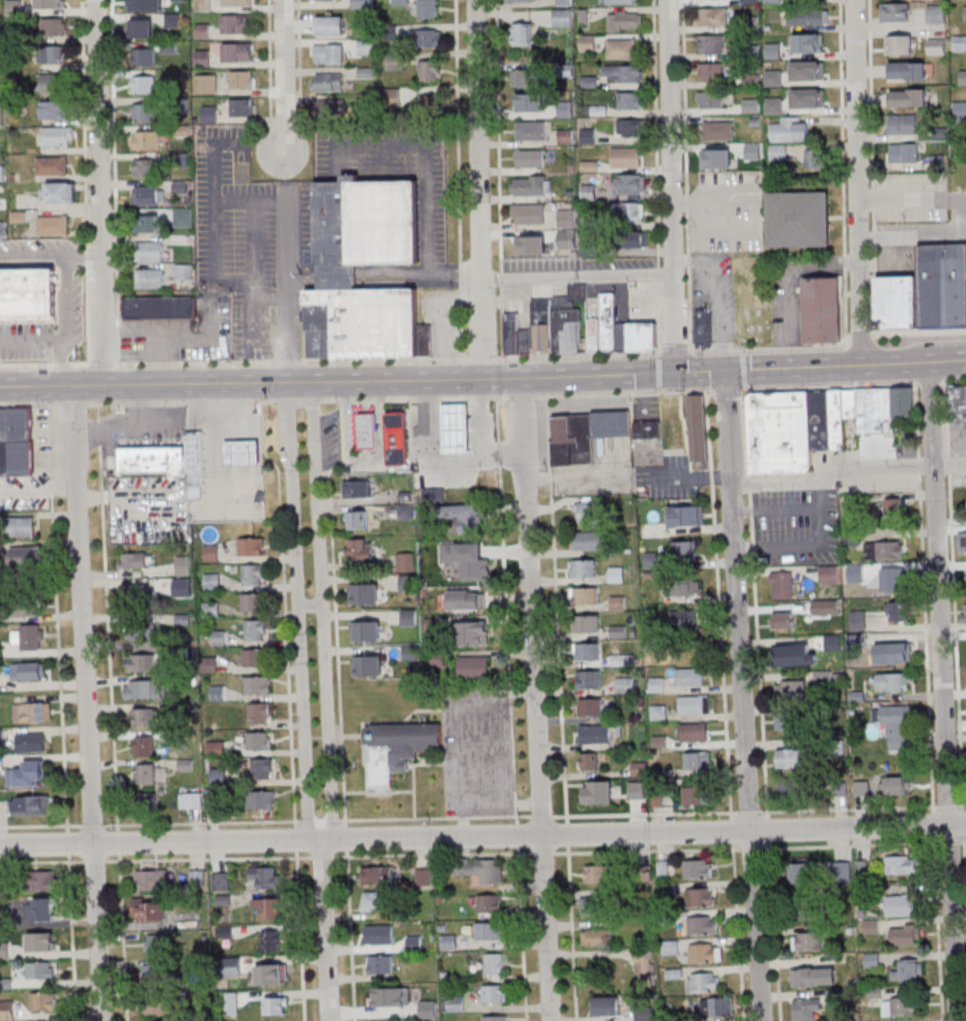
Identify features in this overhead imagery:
building: (749, 0)
building: (520, 1)
building: (622, 1)
building: (772, 1)
building: (236, 2)
building: (402, 3)
building: (49, 4)
building: (363, 4)
building: (203, 5)
building: (14, 8)
building: (428, 8)
building: (895, 12)
building: (965, 12)
building: (935, 15)
building: (712, 16)
building: (808, 17)
building: (561, 19)
building: (173, 20)
building: (624, 20)
building: (750, 23)
building: (238, 24)
building: (330, 25)
building: (54, 26)
building: (140, 28)
building: (202, 30)
building: (389, 32)
building: (521, 34)
building: (429, 37)
building: (807, 42)
building: (587, 43)
building: (959, 43)
building: (712, 44)
building: (898, 44)
building: (936, 47)
building: (366, 48)
building: (621, 49)
building: (773, 50)
building: (238, 51)
building: (329, 53)
building: (751, 53)
building: (52, 54)
building: (146, 57)
road: (270, 57)
building: (202, 58)
building: (395, 62)
road: (299, 63)
building: (429, 70)
building: (565, 70)
building: (806, 70)
building: (907, 71)
building: (711, 72)
building: (623, 74)
road: (283, 76)
building: (525, 77)
building: (774, 77)
building: (964, 77)
building: (240, 79)
building: (752, 79)
building: (51, 82)
building: (329, 82)
building: (206, 83)
building: (144, 84)
building: (392, 97)
building: (907, 97)
building: (806, 98)
building: (711, 99)
building: (630, 101)
building: (529, 102)
building: (430, 103)
building: (181, 105)
building: (751, 105)
building: (774, 105)
building: (242, 107)
building: (53, 109)
building: (565, 109)
building: (143, 111)
building: (1, 112)
building: (209, 114)
road: (872, 114)
building: (902, 124)
building: (631, 128)
building: (789, 129)
building: (530, 131)
building: (718, 131)
building: (57, 135)
building: (588, 136)
building: (565, 137)
building: (148, 139)
building: (753, 151)
building: (778, 152)
building: (904, 152)
building: (710, 155)
building: (626, 157)
building: (180, 158)
road: (424, 158)
building: (529, 158)
building: (814, 158)
road: (381, 162)
building: (52, 165)
building: (145, 167)
parking lot: (393, 171)
road: (842, 171)
building: (2, 173)
road: (685, 175)
road: (656, 176)
road: (458, 179)
road: (499, 179)
road: (85, 182)
road: (114, 182)
building: (630, 183)
road: (859, 183)
building: (531, 185)
road: (672, 186)
road: (478, 190)
building: (59, 192)
building: (588, 192)
road: (99, 193)
building: (146, 195)
parking lot: (914, 198)
road: (250, 203)
road: (685, 203)
road: (913, 203)
building: (633, 211)
building: (527, 213)
parking lot: (727, 214)
building: (182, 216)
road: (215, 218)
building: (567, 218)
parking lot: (958, 218)
building: (795, 221)
building: (149, 223)
building: (53, 225)
building: (2, 228)
road: (702, 233)
parking lot: (245, 234)
road: (913, 236)
building: (635, 239)
building: (541, 243)
building: (591, 247)
parking lot: (36, 248)
building: (151, 250)
road: (50, 261)
building: (183, 271)
building: (150, 278)
road: (252, 278)
building: (336, 278)
road: (578, 278)
road: (423, 281)
road: (874, 281)
road: (791, 283)
building: (942, 286)
road: (288, 292)
parking lot: (714, 292)
building: (29, 294)
road: (717, 298)
road: (66, 302)
parking lot: (785, 302)
building: (898, 303)
building: (156, 309)
building: (818, 312)
building: (610, 321)
building: (702, 328)
parking lot: (48, 329)
road: (919, 331)
building: (597, 334)
building: (643, 336)
building: (623, 337)
road: (860, 337)
road: (51, 342)
road: (770, 347)
road: (743, 350)
road: (676, 351)
road: (658, 352)
road: (387, 359)
road: (947, 362)
road: (102, 363)
road: (44, 364)
building: (755, 367)
road: (743, 369)
traffic signals: (726, 371)
road: (658, 372)
traffic signals: (678, 373)
road: (464, 380)
road: (930, 383)
road: (953, 384)
road: (832, 386)
road: (745, 387)
road: (727, 389)
road: (355, 398)
building: (851, 405)
building: (959, 405)
building: (905, 410)
building: (877, 413)
building: (613, 422)
building: (821, 422)
building: (838, 422)
road: (485, 425)
building: (456, 426)
road: (684, 429)
building: (647, 430)
building: (699, 432)
building: (363, 433)
building: (779, 435)
building: (397, 436)
parking lot: (334, 437)
building: (584, 439)
building: (564, 440)
building: (14, 443)
road: (534, 444)
building: (243, 451)
building: (152, 459)
building: (196, 464)
road: (445, 469)
road: (847, 474)
parking lot: (958, 477)
parking lot: (878, 481)
building: (355, 489)
building: (893, 508)
road: (776, 511)
building: (590, 512)
building: (466, 516)
building: (685, 516)
building: (356, 519)
building: (23, 526)
parking lot: (796, 529)
building: (589, 541)
building: (962, 542)
building: (251, 546)
road: (809, 546)
building: (359, 549)
building: (684, 550)
building: (885, 551)
building: (210, 552)
building: (27, 556)
building: (133, 560)
building: (650, 560)
building: (407, 561)
road: (333, 563)
building: (474, 564)
building: (183, 565)
building: (584, 568)
building: (253, 574)
building: (828, 574)
building: (964, 576)
building: (896, 578)
building: (212, 580)
building: (408, 582)
building: (781, 584)
building: (682, 588)
building: (138, 592)
building: (364, 593)
building: (585, 596)
building: (467, 599)
building: (252, 602)
road: (720, 602)
building: (617, 603)
building: (24, 604)
road: (309, 606)
building: (823, 606)
road: (507, 607)
road: (556, 608)
road: (285, 611)
building: (900, 611)
road: (108, 613)
road: (297, 613)
road: (322, 613)
road: (955, 613)
building: (964, 614)
road: (57, 616)
building: (408, 617)
building: (859, 619)
building: (684, 620)
building: (782, 621)
building: (587, 624)
building: (141, 628)
building: (256, 630)
building: (365, 630)
building: (473, 632)
building: (29, 636)
building: (900, 648)
building: (410, 651)
building: (588, 651)
building: (793, 655)
building: (253, 657)
building: (141, 663)
building: (367, 665)
building: (474, 667)
building: (29, 670)
building: (689, 677)
building: (588, 679)
building: (894, 682)
building: (257, 684)
building: (625, 684)
building: (657, 684)
building: (144, 689)
building: (792, 689)
road: (943, 692)
road: (743, 696)
road: (86, 703)
building: (695, 705)
building: (591, 707)
road: (420, 708)
building: (33, 712)
building: (259, 712)
building: (659, 712)
building: (144, 716)
building: (790, 721)
building: (895, 724)
road: (461, 727)
road: (362, 730)
building: (694, 732)
building: (595, 734)
road: (352, 735)
building: (2, 738)
building: (262, 740)
building: (30, 742)
building: (142, 746)
building: (396, 748)
parking lot: (477, 752)
building: (794, 758)
building: (589, 761)
building: (697, 761)
road: (539, 766)
building: (263, 768)
building: (27, 774)
building: (218, 775)
road: (414, 776)
road: (343, 778)
building: (894, 785)
building: (145, 786)
building: (793, 786)
building: (861, 788)
building: (637, 790)
road: (378, 791)
building: (597, 792)
building: (697, 795)
building: (263, 799)
building: (194, 800)
building: (27, 805)
road: (645, 813)
road: (499, 816)
road: (462, 817)
road: (397, 818)
road: (202, 822)
road: (41, 825)
road: (483, 836)
road: (858, 844)
road: (647, 850)
road: (965, 853)
road: (432, 854)
road: (208, 858)
road: (41, 861)
building: (901, 865)
building: (863, 866)
building: (701, 868)
building: (482, 869)
building: (844, 871)
building: (803, 872)
building: (596, 874)
building: (377, 875)
building: (265, 876)
building: (152, 879)
building: (43, 880)
building: (700, 896)
building: (373, 901)
building: (489, 903)
building: (598, 905)
building: (900, 906)
building: (268, 907)
building: (42, 909)
building: (150, 910)
building: (810, 910)
building: (702, 925)
road: (325, 930)
building: (489, 931)
road: (739, 931)
road: (775, 931)
road: (522, 933)
road: (572, 933)
road: (350, 934)
building: (379, 934)
road: (300, 935)
building: (906, 935)
road: (123, 936)
road: (72, 937)
building: (599, 937)
building: (271, 940)
building: (808, 940)
building: (41, 942)
building: (156, 945)
building: (671, 950)
building: (705, 952)
building: (872, 959)
building: (380, 963)
building: (494, 963)
building: (644, 966)
building: (41, 970)
building: (908, 970)
building: (155, 971)
building: (272, 973)
building: (675, 973)
building: (813, 976)
building: (705, 981)
building: (494, 994)
building: (44, 1002)
building: (456, 1003)
building: (158, 1004)
building: (276, 1005)
building: (606, 1006)
building: (900, 1006)
building: (716, 1007)
building: (805, 1008)
building: (8, 1010)
building: (643, 1013)
building: (495, 1018)

